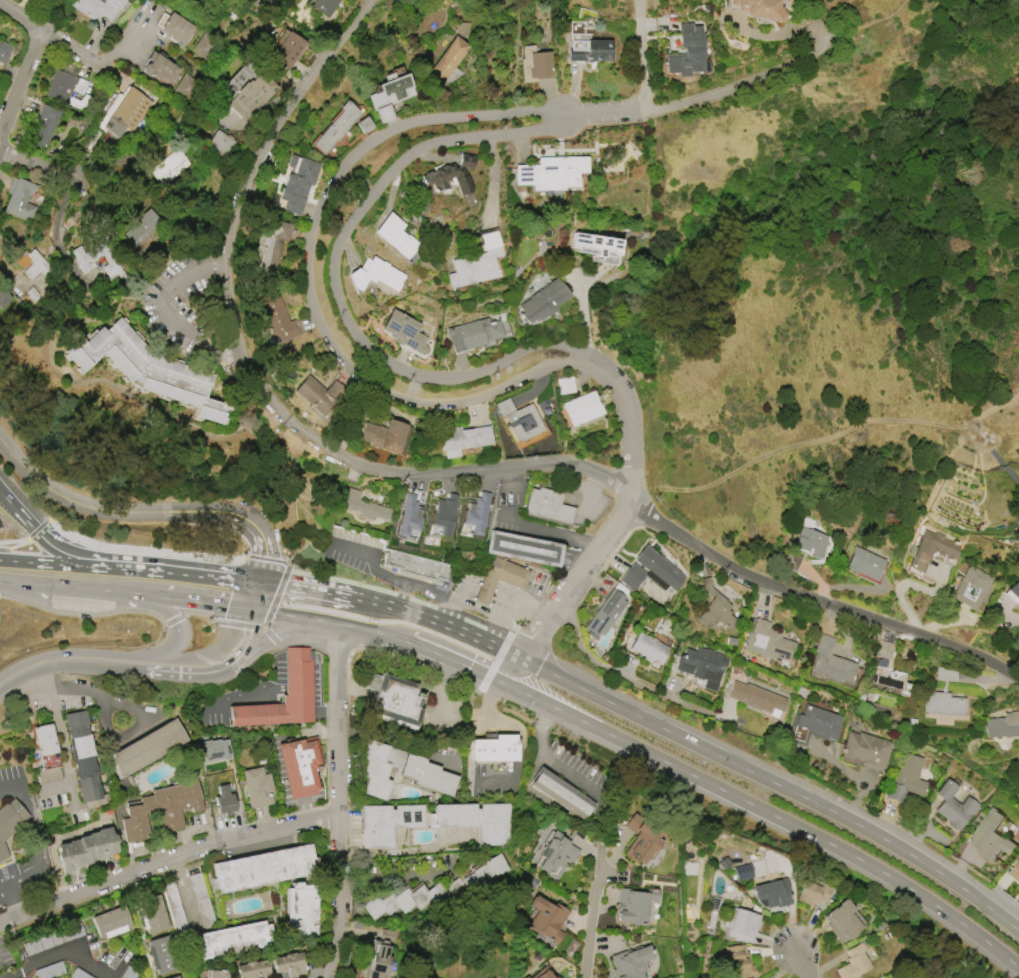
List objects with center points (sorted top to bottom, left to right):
building: (277, 0)
building: (323, 6)
building: (99, 7)
building: (759, 9)
road: (875, 20)
building: (175, 27)
building: (462, 29)
road: (150, 36)
building: (205, 47)
building: (288, 50)
building: (589, 51)
building: (687, 51)
building: (4, 52)
road: (83, 55)
road: (641, 56)
building: (448, 60)
building: (534, 64)
building: (159, 68)
building: (64, 83)
road: (22, 85)
building: (186, 86)
building: (252, 95)
building: (390, 95)
road: (709, 96)
building: (81, 102)
building: (123, 114)
building: (365, 124)
building: (43, 126)
building: (336, 127)
building: (221, 143)
road: (41, 166)
building: (171, 166)
building: (552, 173)
building: (451, 175)
building: (298, 183)
building: (20, 199)
building: (140, 230)
building: (395, 235)
building: (595, 242)
building: (271, 252)
building: (85, 258)
building: (477, 262)
building: (33, 264)
building: (376, 274)
road: (313, 288)
road: (337, 289)
building: (32, 294)
building: (3, 299)
building: (543, 301)
road: (161, 308)
road: (586, 309)
building: (277, 319)
building: (404, 331)
building: (473, 334)
building: (148, 368)
road: (264, 371)
building: (564, 385)
building: (319, 395)
building: (582, 408)
building: (519, 421)
road: (627, 428)
building: (383, 435)
building: (463, 439)
road: (515, 484)
road: (589, 493)
road: (425, 503)
building: (364, 506)
building: (547, 506)
building: (444, 513)
road: (147, 514)
building: (475, 515)
building: (409, 519)
road: (551, 530)
road: (67, 540)
building: (810, 540)
road: (33, 546)
road: (85, 547)
building: (522, 548)
building: (930, 549)
road: (156, 552)
road: (52, 555)
road: (267, 557)
building: (864, 563)
road: (95, 566)
building: (415, 566)
building: (651, 571)
road: (226, 577)
road: (403, 577)
building: (500, 578)
road: (578, 580)
traffic signals: (262, 581)
road: (35, 583)
road: (306, 587)
building: (970, 587)
road: (107, 590)
building: (1015, 591)
road: (276, 593)
road: (406, 594)
road: (508, 594)
road: (258, 595)
road: (461, 600)
road: (820, 601)
road: (198, 602)
building: (715, 607)
traffic signals: (254, 610)
building: (607, 611)
road: (83, 612)
road: (201, 612)
road: (290, 615)
road: (174, 617)
road: (237, 622)
road: (438, 622)
road: (333, 623)
road: (180, 629)
road: (277, 630)
road: (242, 631)
road: (270, 634)
road: (284, 641)
building: (768, 642)
road: (449, 644)
building: (648, 648)
road: (71, 660)
building: (831, 661)
building: (702, 665)
building: (888, 665)
road: (191, 668)
building: (946, 674)
road: (628, 678)
road: (445, 692)
building: (282, 696)
building: (756, 697)
building: (393, 698)
building: (942, 703)
building: (1002, 725)
building: (812, 726)
road: (59, 729)
road: (110, 730)
road: (520, 736)
building: (147, 747)
building: (494, 748)
building: (215, 750)
building: (865, 750)
building: (46, 753)
building: (82, 757)
road: (553, 763)
building: (299, 765)
building: (379, 767)
road: (689, 773)
building: (428, 775)
road: (855, 777)
building: (905, 778)
road: (777, 784)
road: (15, 787)
building: (257, 787)
road: (72, 794)
building: (561, 794)
building: (224, 801)
road: (341, 801)
building: (953, 806)
building: (161, 810)
building: (476, 820)
building: (9, 822)
building: (385, 822)
building: (990, 836)
building: (641, 839)
building: (85, 849)
road: (41, 854)
building: (555, 855)
road: (168, 862)
building: (263, 867)
building: (1015, 870)
building: (742, 872)
building: (486, 873)
road: (400, 875)
road: (3, 884)
building: (458, 890)
building: (813, 892)
building: (771, 893)
building: (201, 899)
building: (404, 900)
road: (11, 901)
building: (634, 905)
building: (174, 908)
building: (300, 910)
building: (152, 915)
building: (545, 918)
building: (841, 920)
building: (111, 922)
road: (595, 924)
building: (743, 925)
building: (53, 939)
building: (228, 940)
road: (57, 952)
building: (162, 954)
building: (630, 962)
building: (738, 962)
building: (853, 962)
building: (378, 963)
building: (287, 964)
road: (806, 967)
building: (253, 969)
building: (50, 970)
road: (12, 972)
building: (129, 973)
building: (214, 973)
building: (543, 973)
building: (78, 974)
building: (175, 976)
road: (329, 977)
building: (525, 977)

